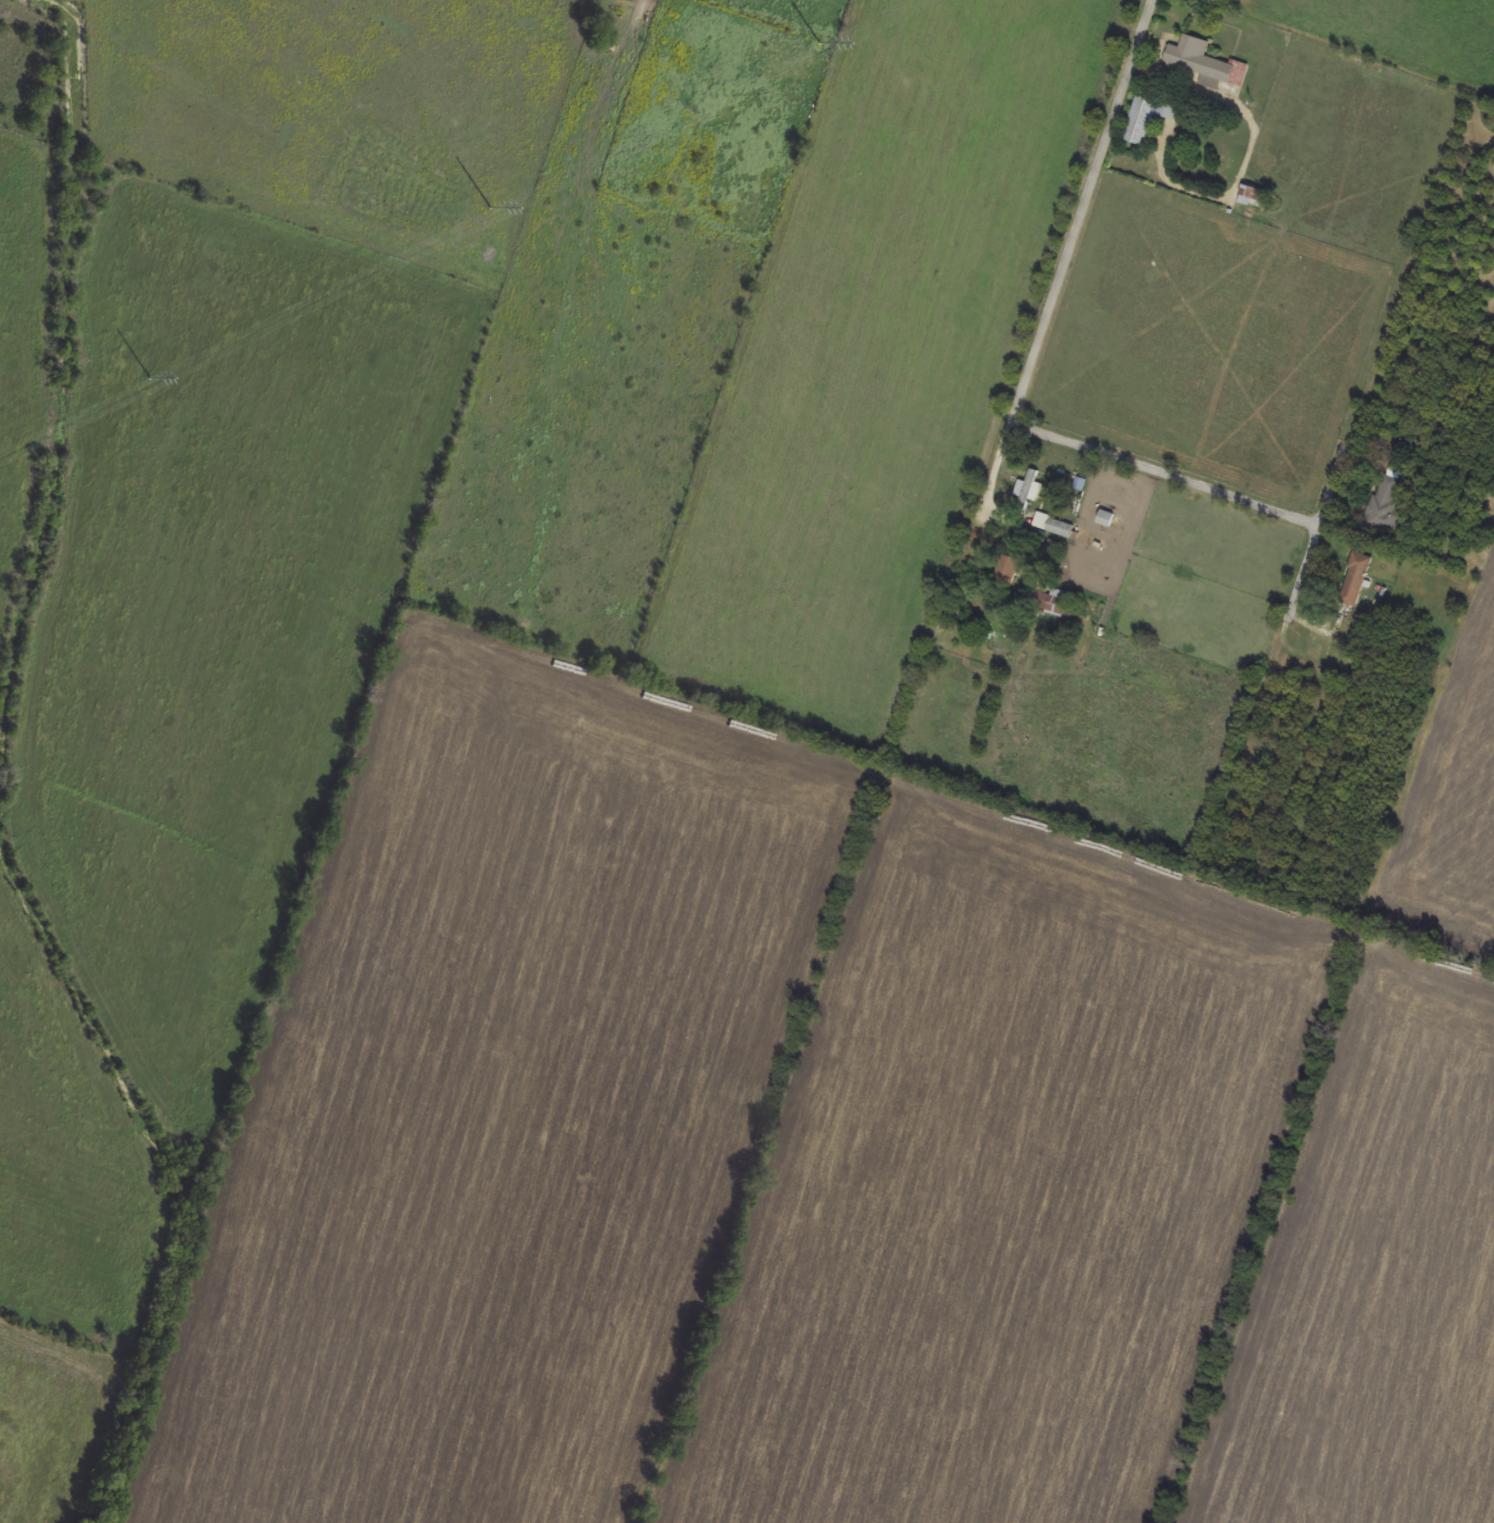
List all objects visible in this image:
building: (637, 0)
power tower: (822, 44)
building: (1205, 63)
building: (1147, 118)
building: (1253, 196)
power tower: (493, 208)
power tower: (152, 379)
road: (1017, 403)
road: (991, 467)
building: (1028, 492)
building: (1384, 509)
building: (1106, 518)
building: (1054, 525)
building: (1008, 571)
building: (1355, 579)
building: (1052, 603)

